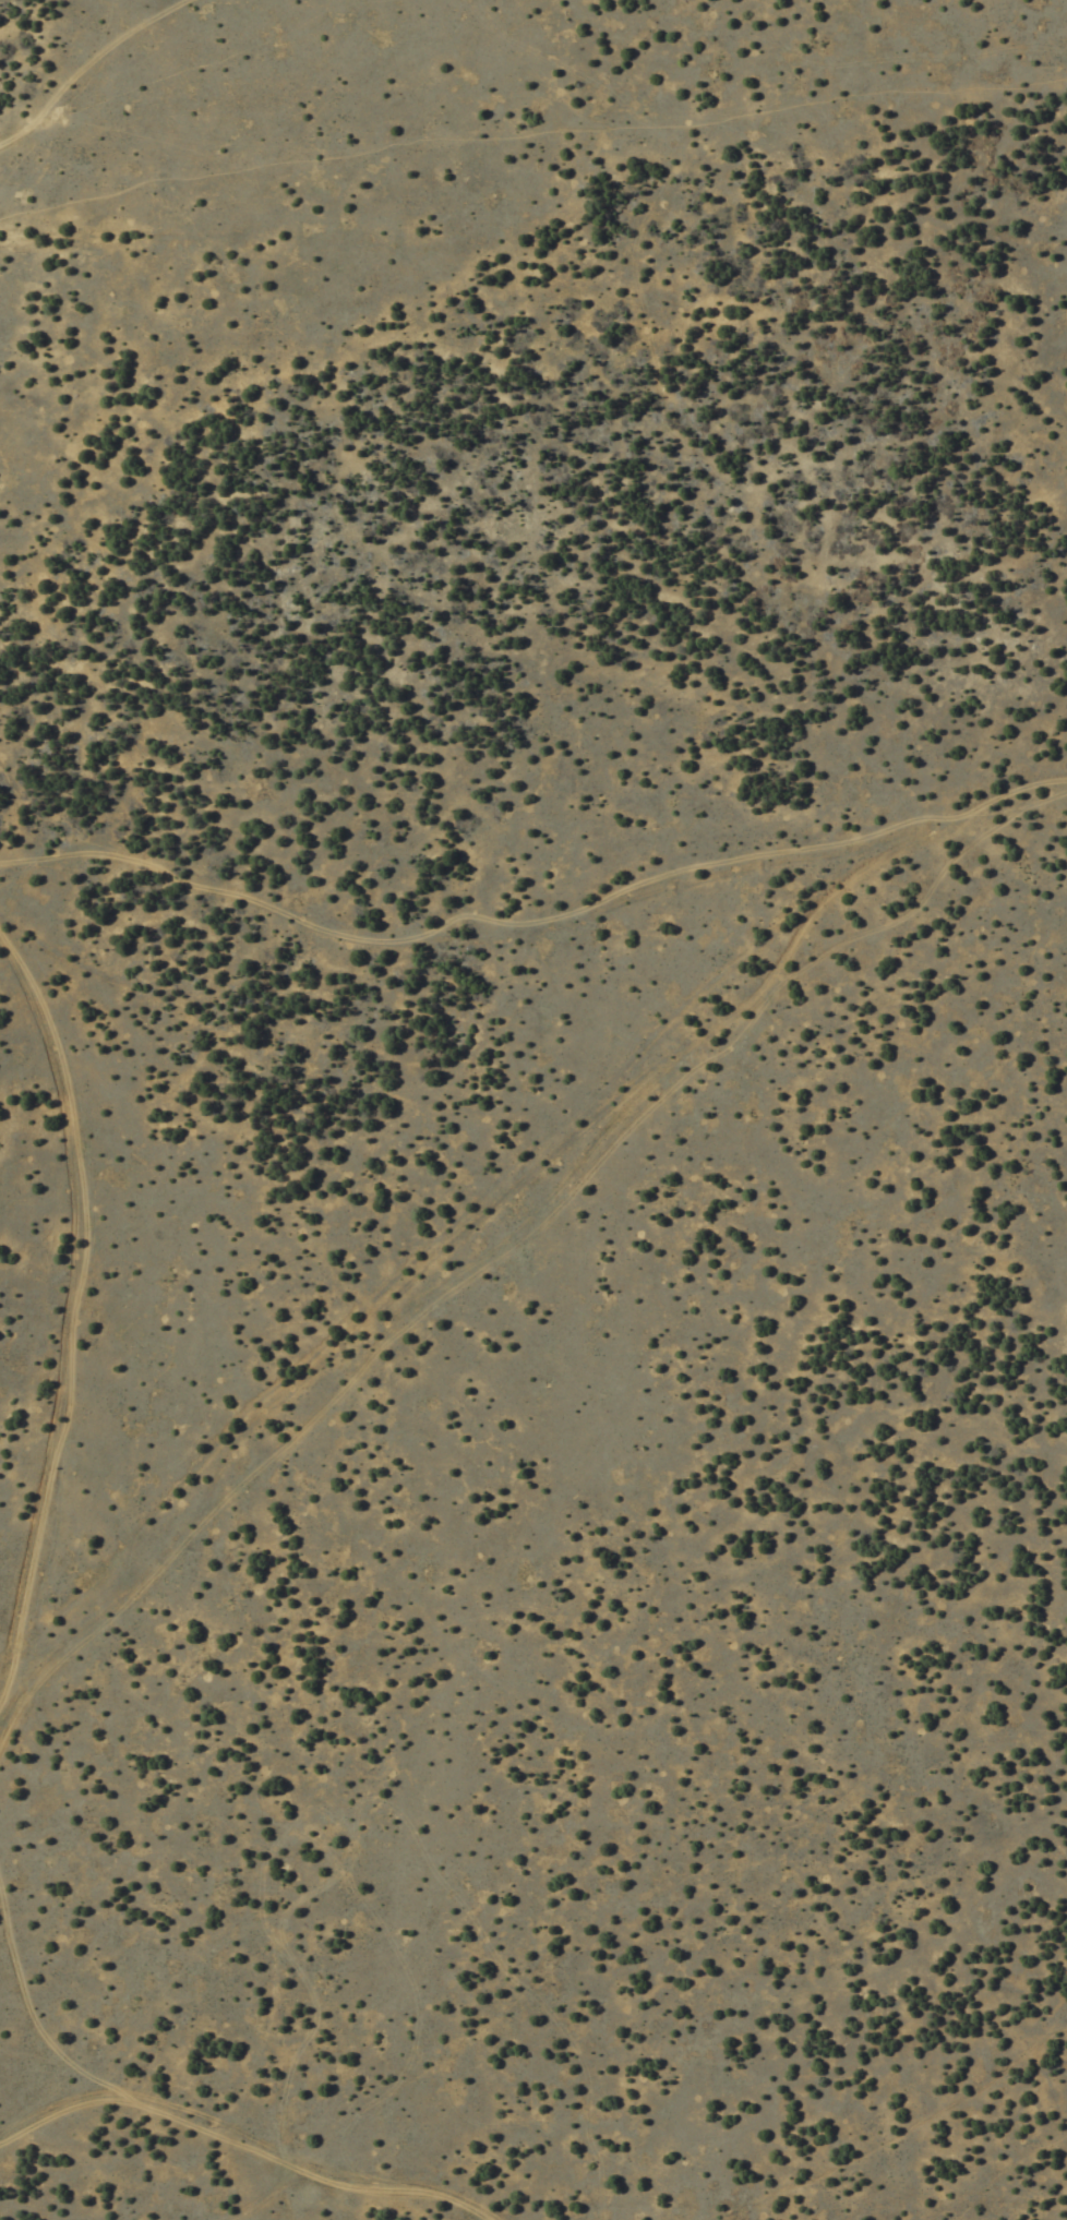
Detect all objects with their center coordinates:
road: (87, 62)
road: (532, 923)
road: (497, 1197)
road: (245, 2134)

